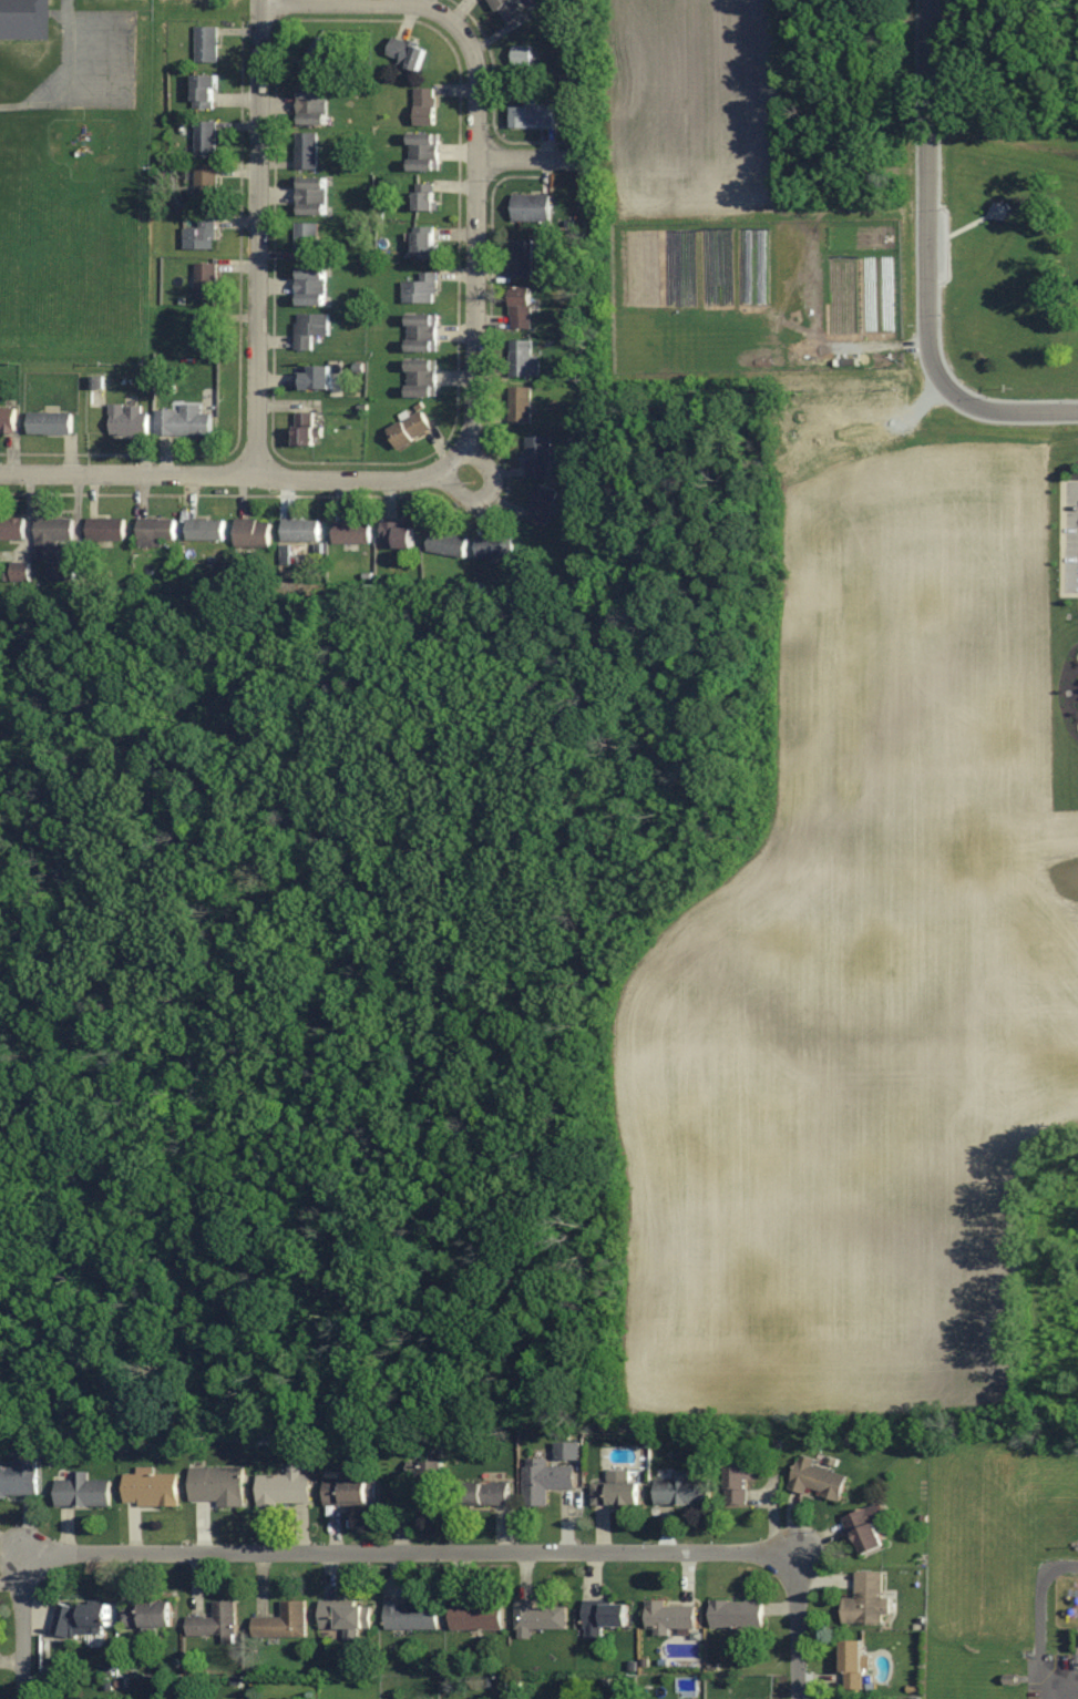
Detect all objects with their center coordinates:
building: (512, 12)
building: (21, 20)
building: (207, 44)
building: (407, 53)
building: (523, 55)
building: (319, 58)
building: (206, 92)
building: (314, 106)
building: (427, 108)
building: (533, 115)
building: (207, 140)
building: (308, 152)
building: (424, 152)
road: (479, 154)
road: (527, 157)
building: (207, 187)
building: (312, 197)
building: (425, 198)
building: (532, 207)
building: (202, 236)
road: (258, 237)
building: (307, 242)
building: (427, 245)
building: (522, 258)
road: (926, 265)
building: (207, 283)
building: (311, 287)
building: (422, 290)
building: (522, 307)
building: (310, 329)
building: (206, 331)
building: (423, 332)
building: (524, 360)
building: (315, 378)
building: (423, 378)
building: (520, 406)
building: (7, 420)
building: (129, 420)
building: (184, 421)
building: (51, 423)
building: (306, 429)
building: (411, 430)
building: (538, 458)
road: (243, 474)
road: (491, 492)
building: (542, 505)
building: (11, 529)
building: (106, 529)
building: (206, 530)
building: (157, 531)
building: (301, 531)
building: (352, 533)
building: (253, 534)
building: (53, 536)
building: (398, 536)
building: (449, 544)
building: (495, 547)
building: (60, 572)
building: (20, 1478)
building: (430, 1480)
building: (545, 1480)
building: (741, 1480)
building: (819, 1480)
building: (217, 1485)
building: (286, 1487)
building: (152, 1488)
building: (618, 1488)
building: (684, 1490)
building: (82, 1491)
building: (350, 1491)
building: (484, 1493)
building: (867, 1528)
road: (418, 1552)
building: (866, 1599)
building: (737, 1614)
building: (150, 1615)
building: (478, 1615)
building: (346, 1616)
building: (412, 1616)
building: (540, 1616)
building: (604, 1616)
building: (670, 1616)
building: (81, 1618)
building: (215, 1621)
building: (284, 1621)
road: (20, 1624)
road: (799, 1635)
building: (853, 1665)
road: (1066, 1697)

